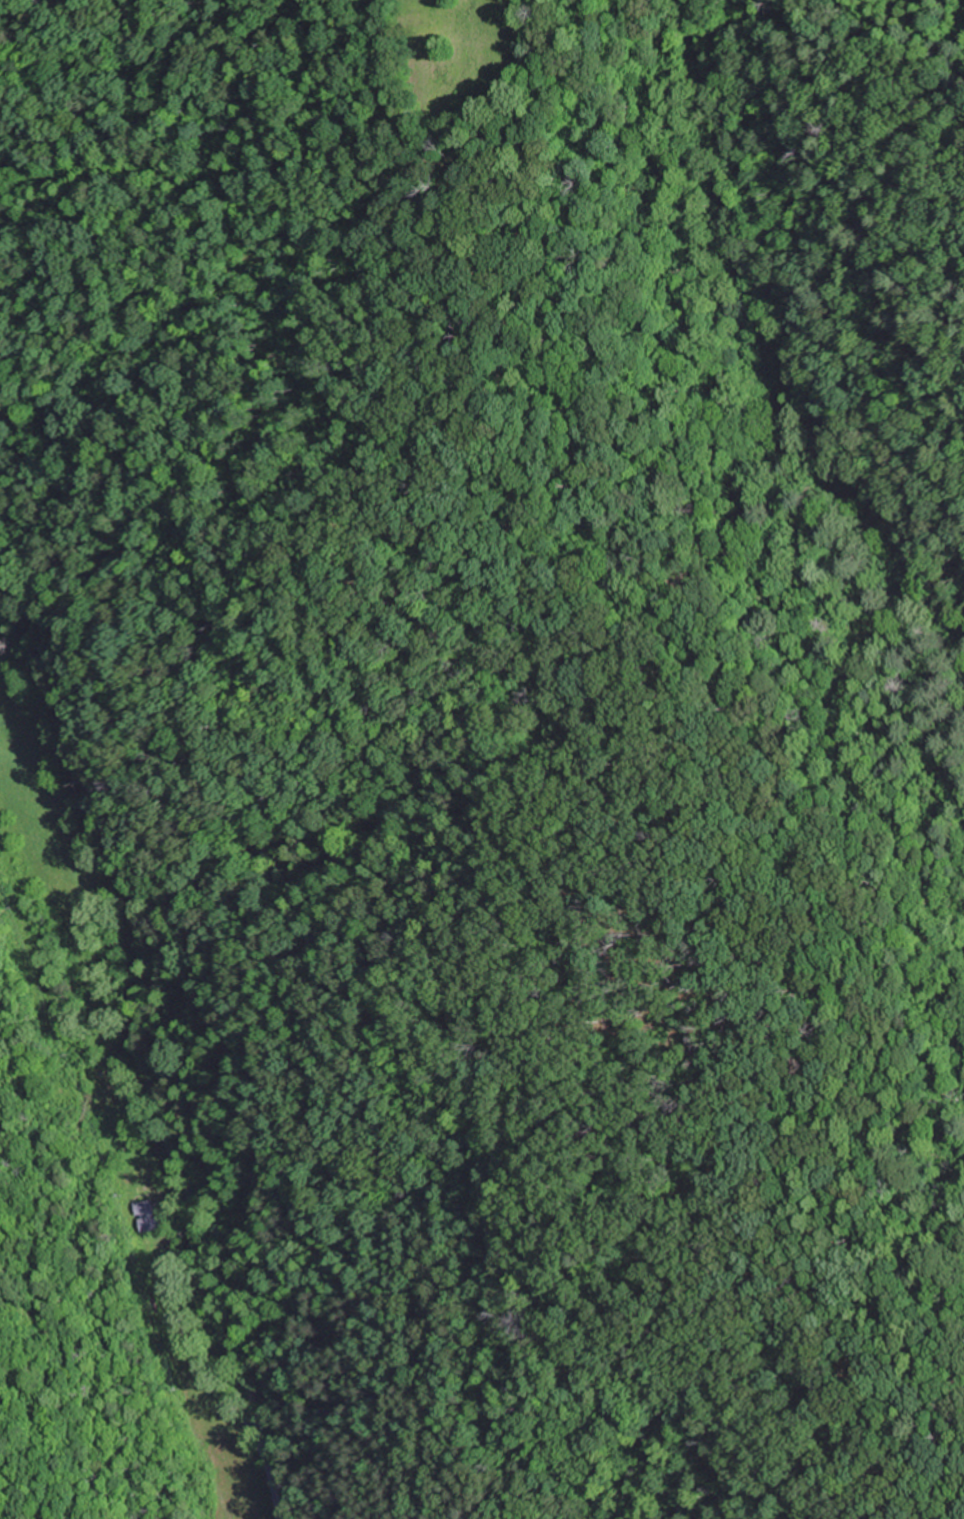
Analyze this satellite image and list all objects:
road: (140, 1035)
building: (150, 1215)

